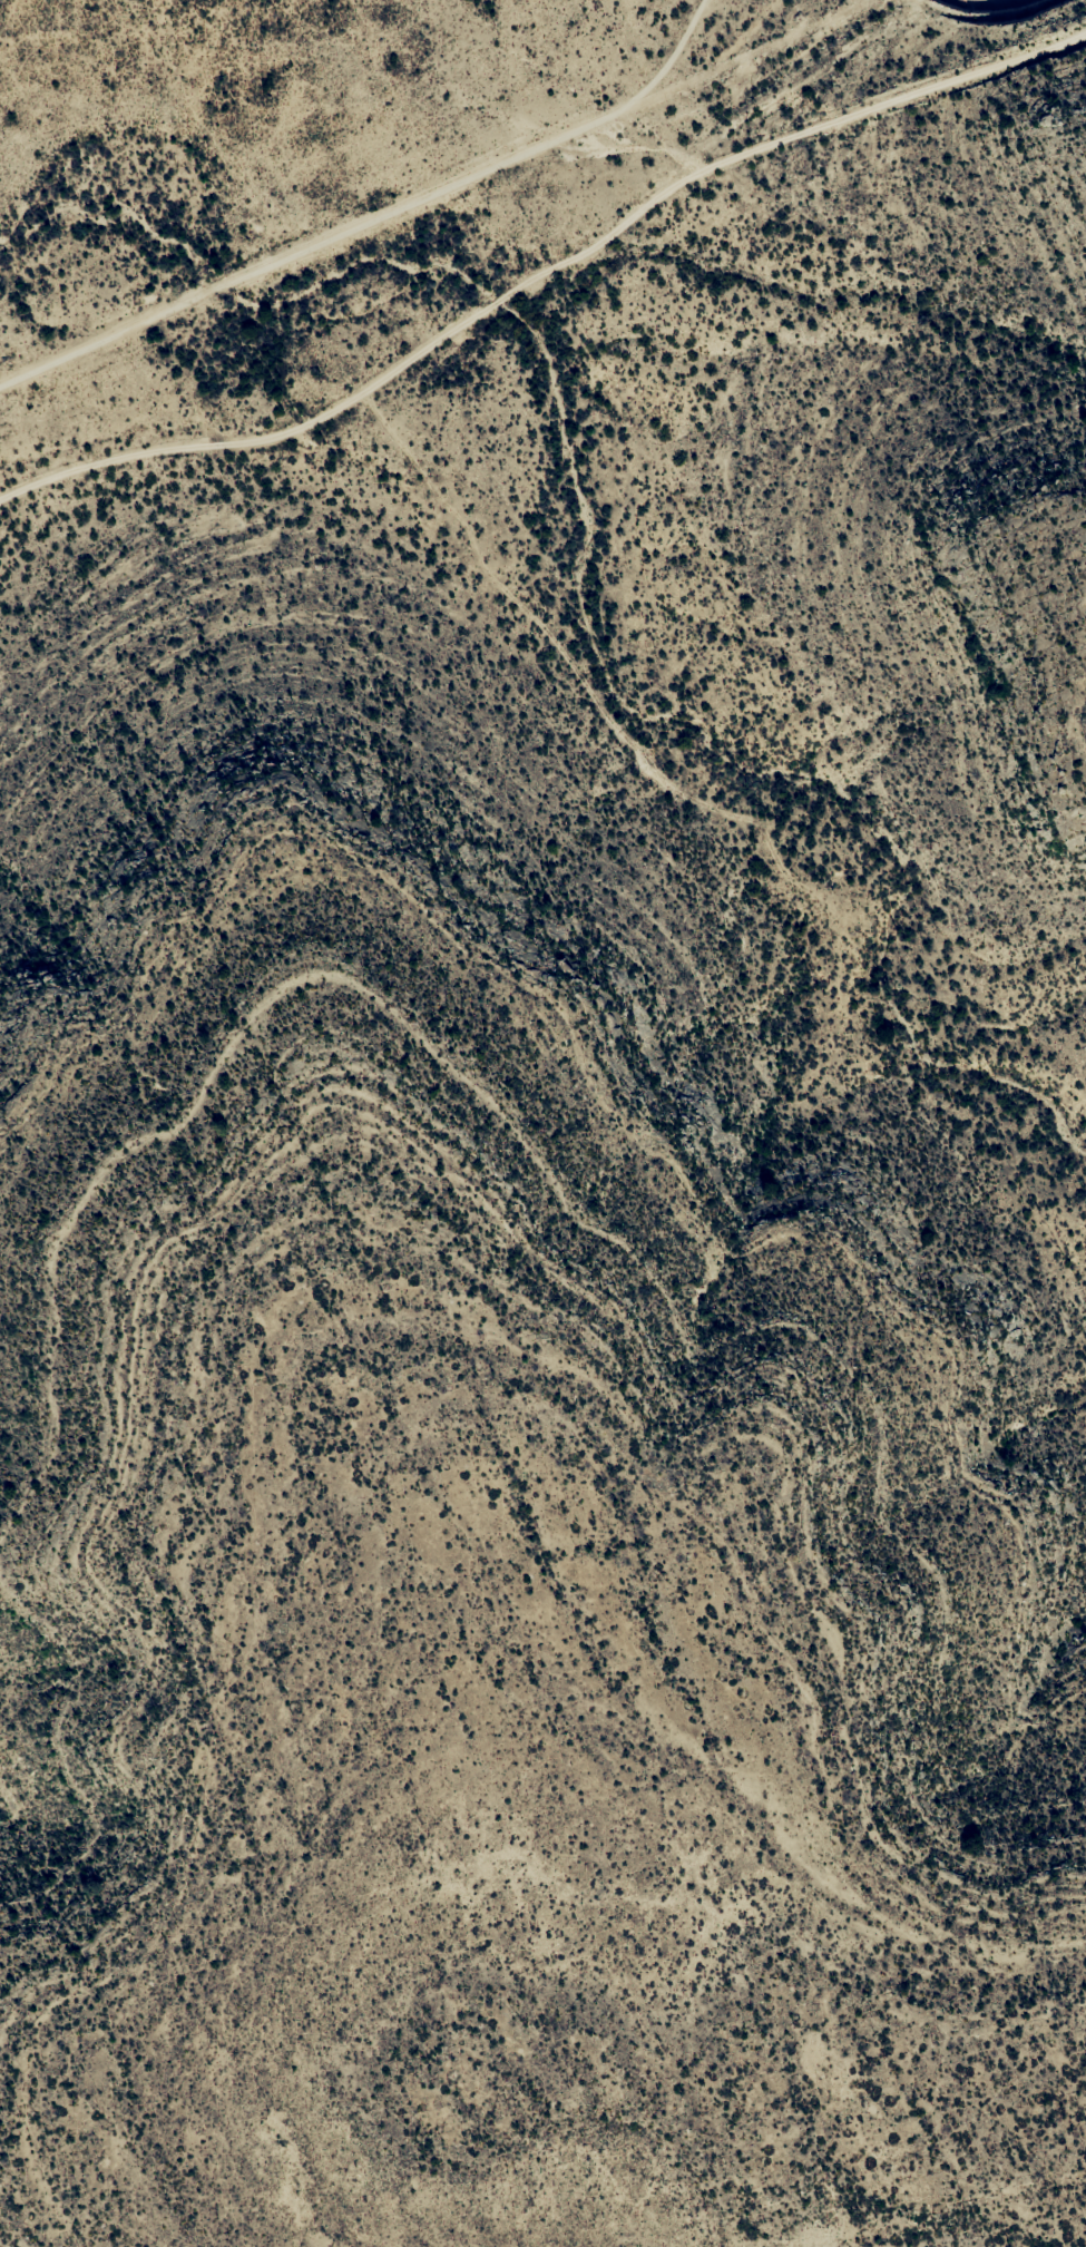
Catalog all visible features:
road: (541, 271)

